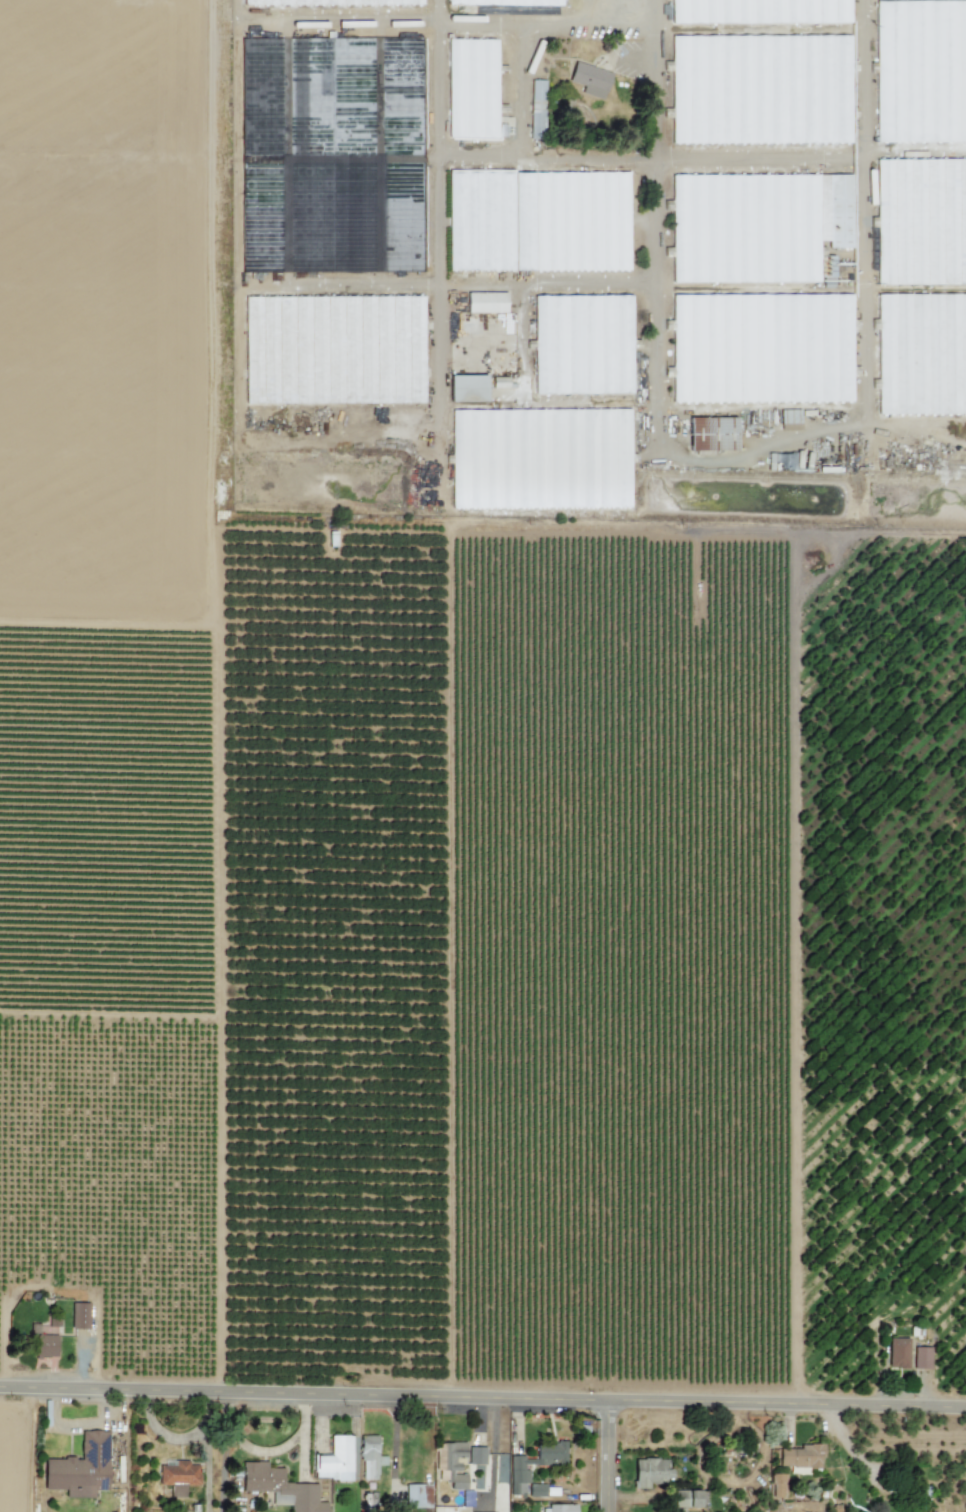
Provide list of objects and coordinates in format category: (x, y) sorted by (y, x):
building: (333, 2)
building: (504, 2)
building: (764, 10)
road: (542, 25)
building: (922, 67)
building: (590, 79)
building: (767, 85)
building: (479, 87)
building: (542, 105)
road: (914, 148)
road: (544, 160)
road: (757, 160)
road: (436, 200)
building: (545, 218)
building: (923, 219)
building: (771, 223)
building: (489, 305)
building: (590, 343)
building: (338, 345)
building: (767, 347)
building: (924, 353)
building: (499, 382)
building: (472, 386)
building: (788, 419)
building: (718, 434)
road: (747, 451)
building: (548, 455)
building: (79, 1315)
building: (44, 1346)
building: (897, 1353)
building: (921, 1358)
road: (483, 1391)
road: (393, 1442)
road: (491, 1446)
road: (609, 1453)
road: (258, 1454)
building: (476, 1455)
building: (801, 1456)
building: (369, 1457)
building: (334, 1460)
building: (453, 1464)
building: (533, 1464)
building: (80, 1468)
building: (648, 1472)
building: (178, 1476)
building: (500, 1481)
building: (776, 1485)
building: (280, 1488)
building: (536, 1490)
building: (417, 1496)
building: (687, 1498)
building: (558, 1508)

